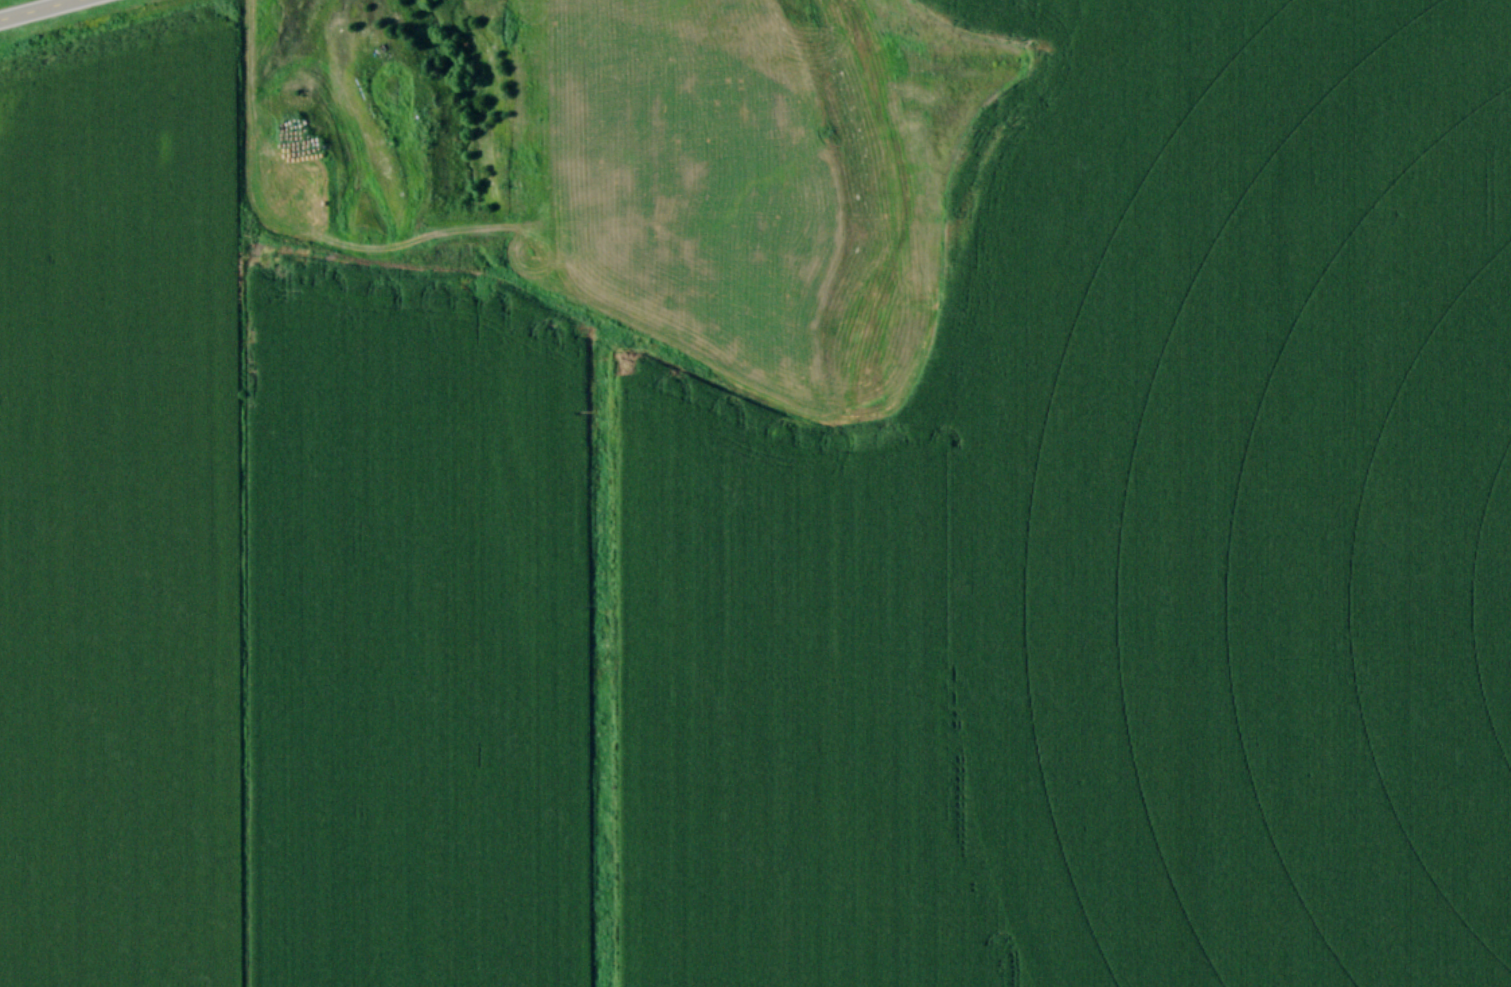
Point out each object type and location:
road: (41, 10)

